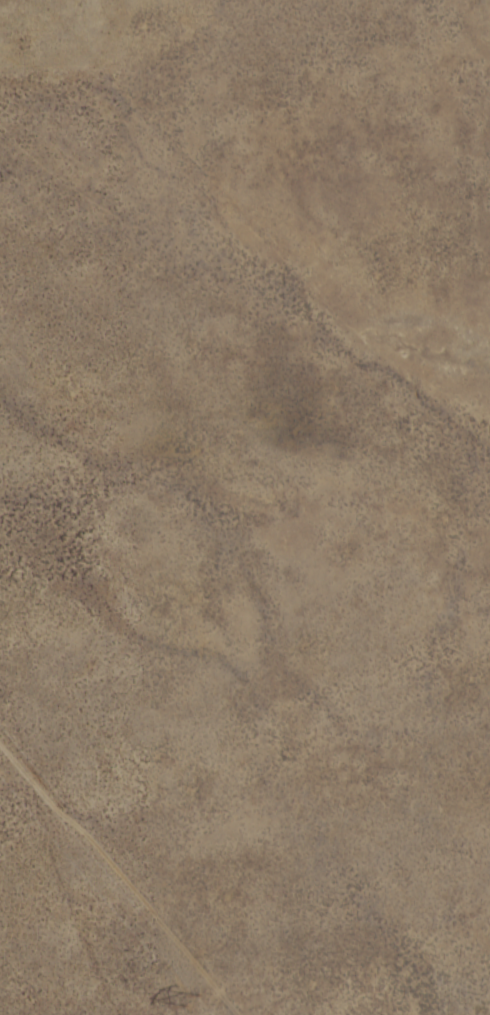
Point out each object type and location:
power tower: (193, 1003)

